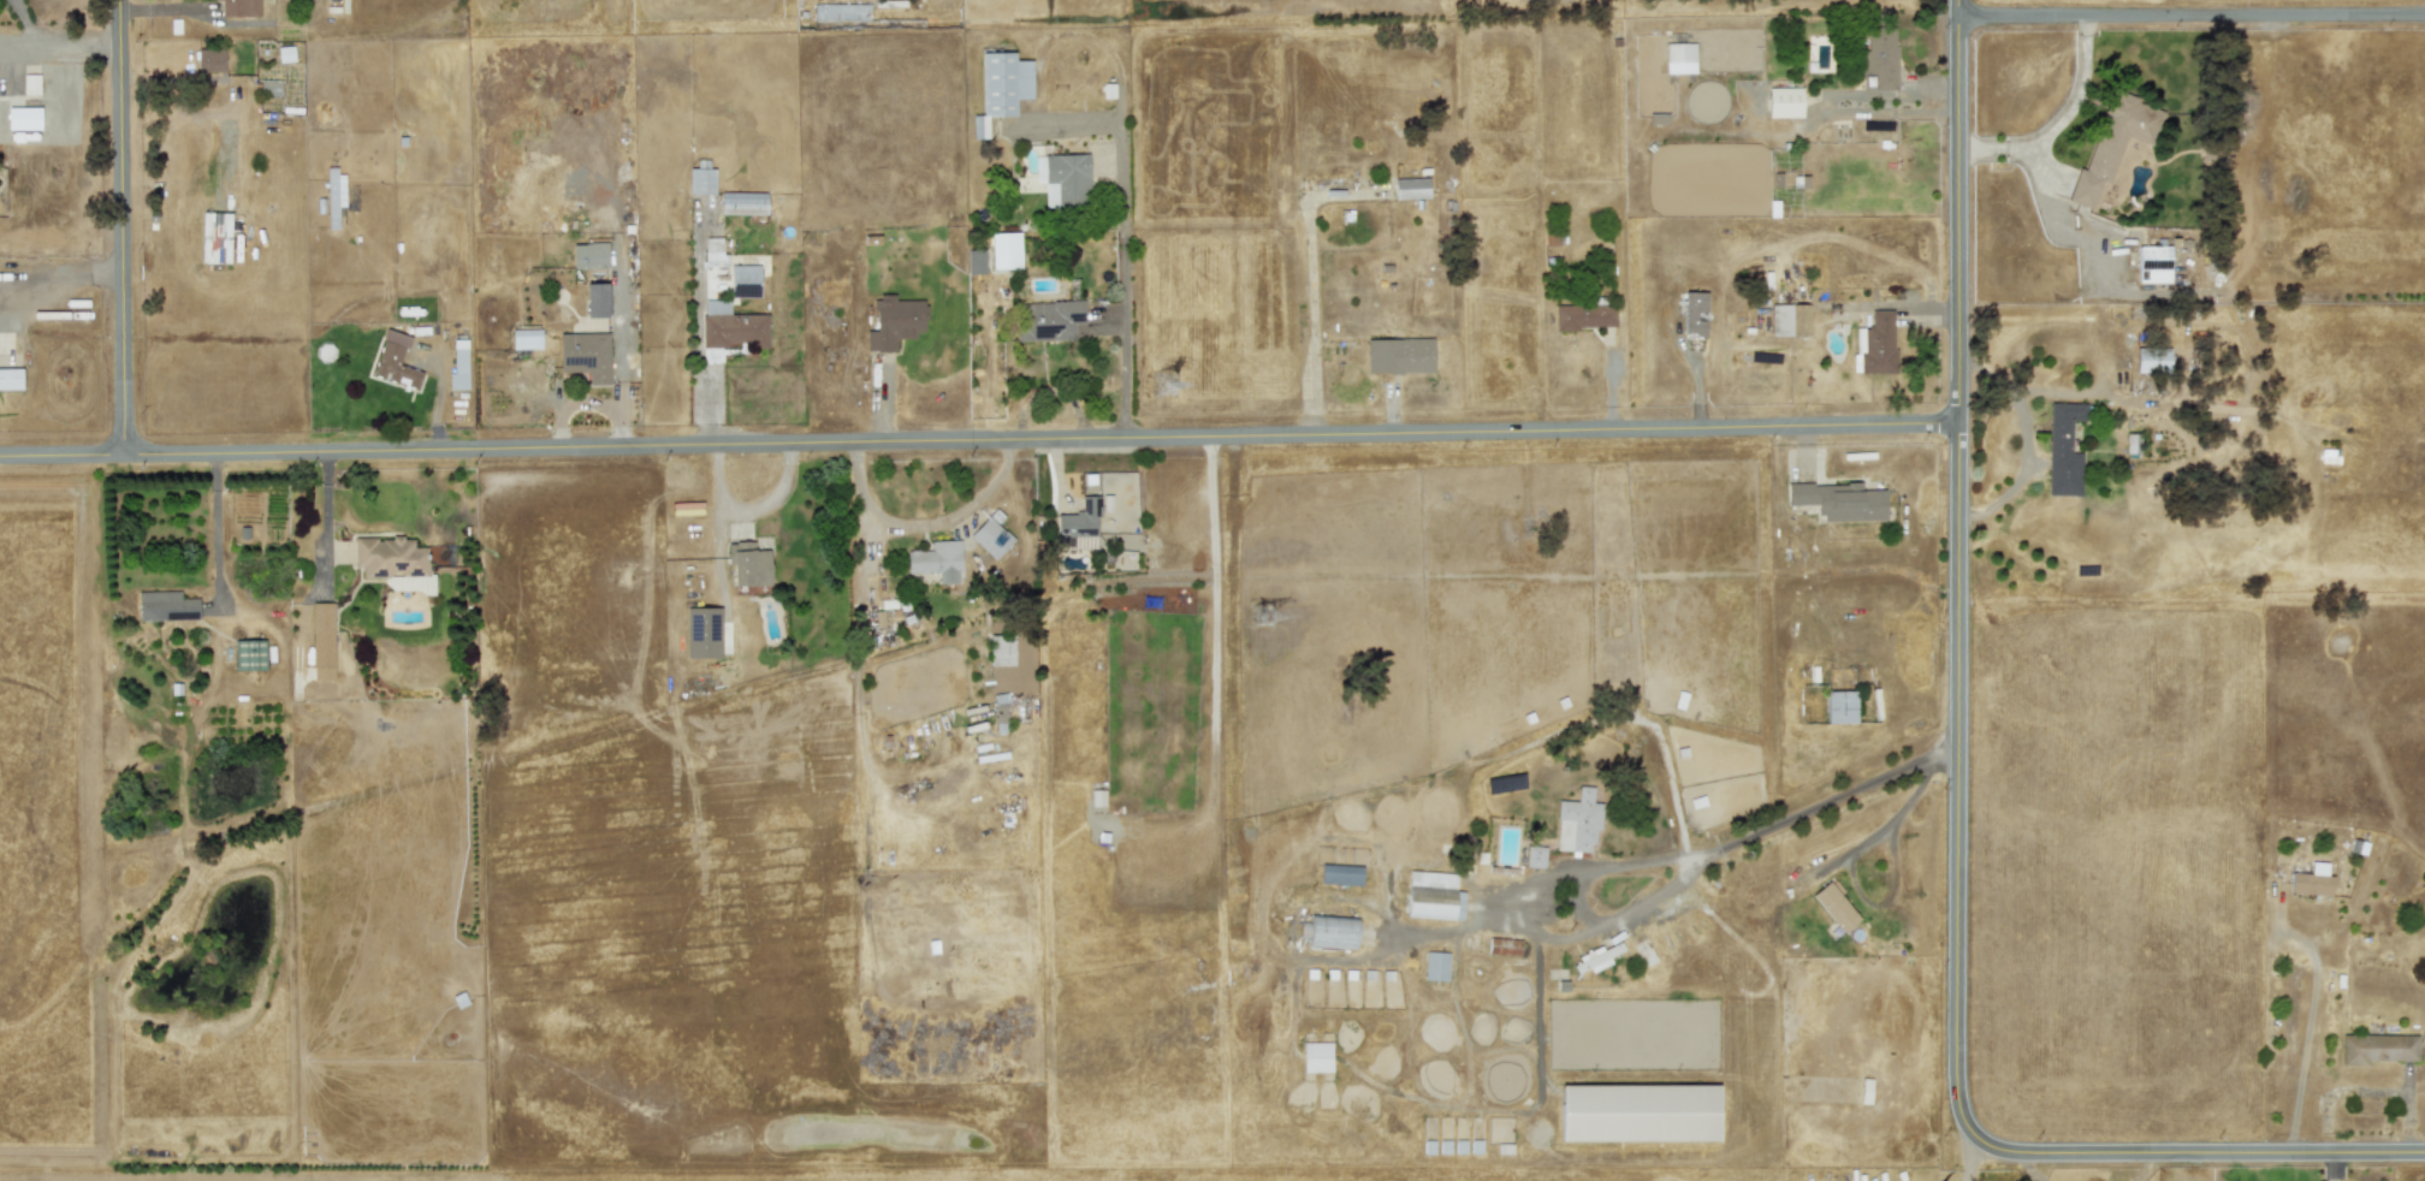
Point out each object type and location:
building: (239, 7)
road: (2190, 17)
road: (60, 51)
building: (1880, 57)
building: (1679, 58)
building: (209, 59)
building: (18, 84)
building: (1001, 88)
building: (1781, 105)
road: (1896, 113)
building: (2112, 144)
building: (700, 178)
building: (1062, 179)
building: (1411, 189)
building: (333, 195)
building: (743, 203)
road: (124, 227)
building: (214, 237)
building: (1004, 250)
building: (713, 253)
building: (589, 255)
building: (976, 261)
building: (2153, 263)
road: (1126, 274)
building: (743, 281)
building: (595, 299)
building: (1694, 314)
road: (1314, 315)
building: (1584, 315)
building: (1047, 320)
building: (1790, 320)
building: (894, 322)
building: (526, 338)
building: (1874, 344)
building: (711, 354)
building: (585, 355)
building: (1398, 355)
building: (2152, 360)
building: (395, 361)
building: (457, 366)
building: (10, 379)
power tower: (1173, 385)
road: (2073, 394)
road: (978, 441)
road: (2023, 443)
building: (2131, 444)
building: (2063, 450)
building: (1839, 502)
road: (748, 508)
building: (686, 509)
road: (217, 524)
building: (1078, 526)
road: (926, 528)
building: (990, 538)
building: (937, 560)
building: (392, 564)
building: (748, 565)
building: (165, 606)
power tower: (1267, 623)
building: (702, 633)
building: (321, 641)
building: (1001, 649)
building: (249, 654)
building: (1839, 706)
building: (1000, 712)
building: (1097, 797)
road: (1955, 799)
building: (1577, 821)
building: (1534, 856)
road: (1630, 866)
road: (1851, 870)
building: (1340, 874)
building: (2311, 880)
building: (1433, 896)
road: (1577, 906)
building: (1834, 907)
road: (1623, 916)
building: (1332, 931)
building: (1504, 946)
building: (1644, 952)
building: (1595, 959)
building: (1435, 966)
road: (1537, 987)
road: (2307, 1032)
building: (2378, 1049)
building: (1316, 1056)
building: (1638, 1112)
road: (1972, 1159)
road: (2151, 1167)
road: (2027, 1168)

